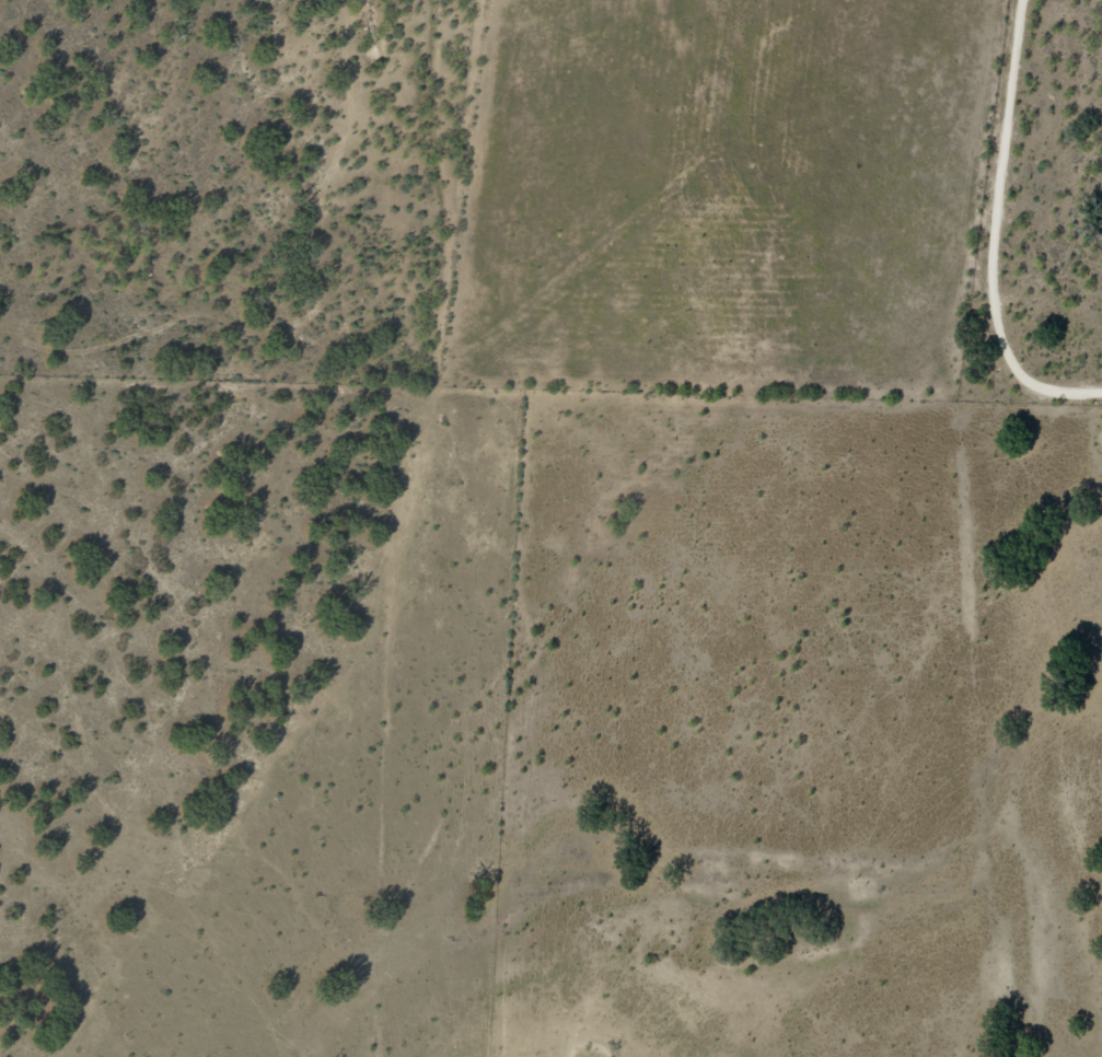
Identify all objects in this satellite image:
road: (225, 764)

